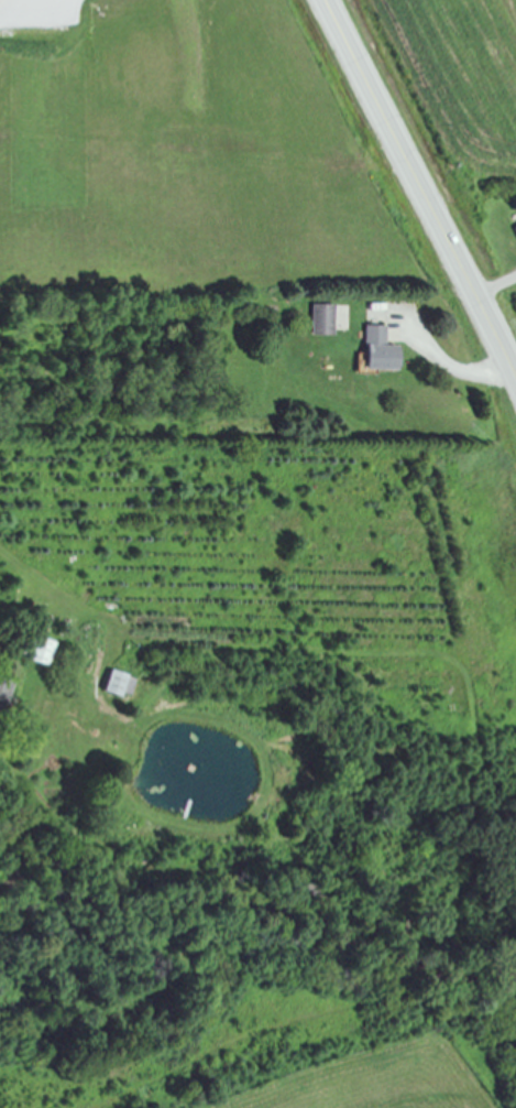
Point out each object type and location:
road: (421, 187)
building: (513, 233)
road: (496, 284)
building: (318, 321)
building: (373, 351)
road: (454, 368)
building: (36, 652)
building: (111, 685)
building: (2, 687)
airport: (388, 1062)

